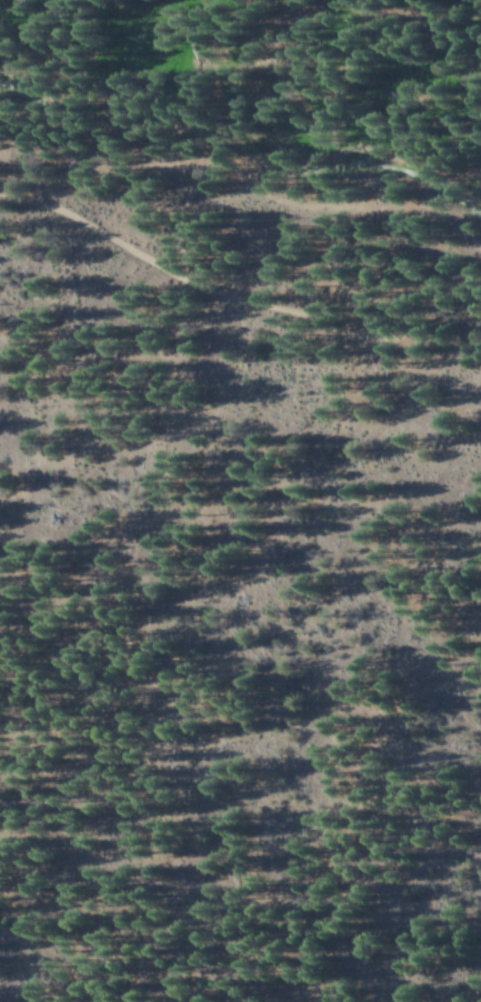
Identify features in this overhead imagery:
road: (237, 299)

